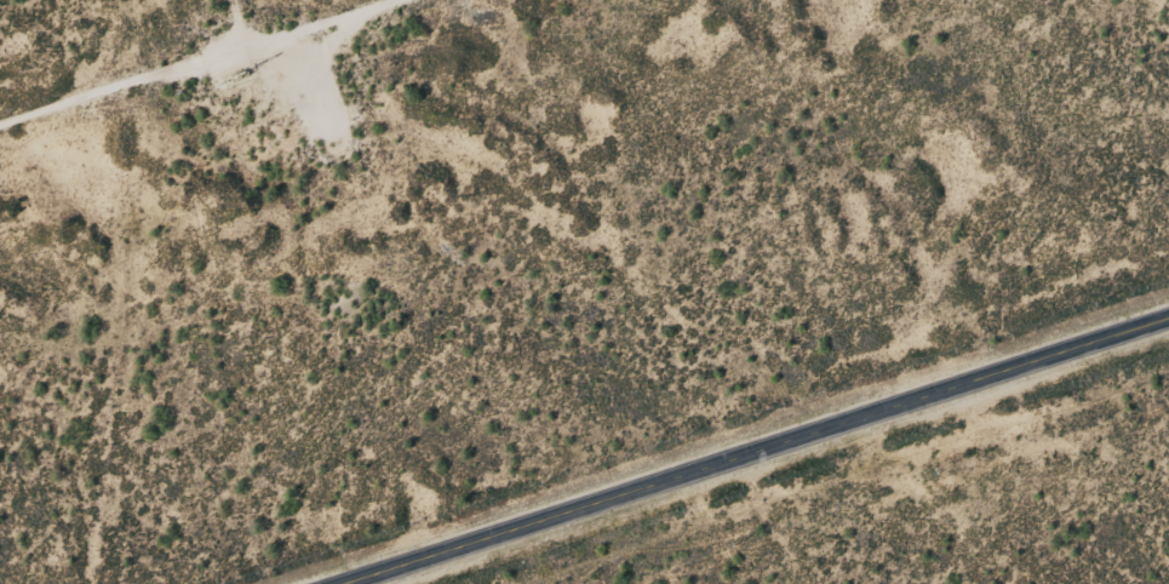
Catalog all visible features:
road: (228, 34)
road: (258, 65)
road: (752, 447)

